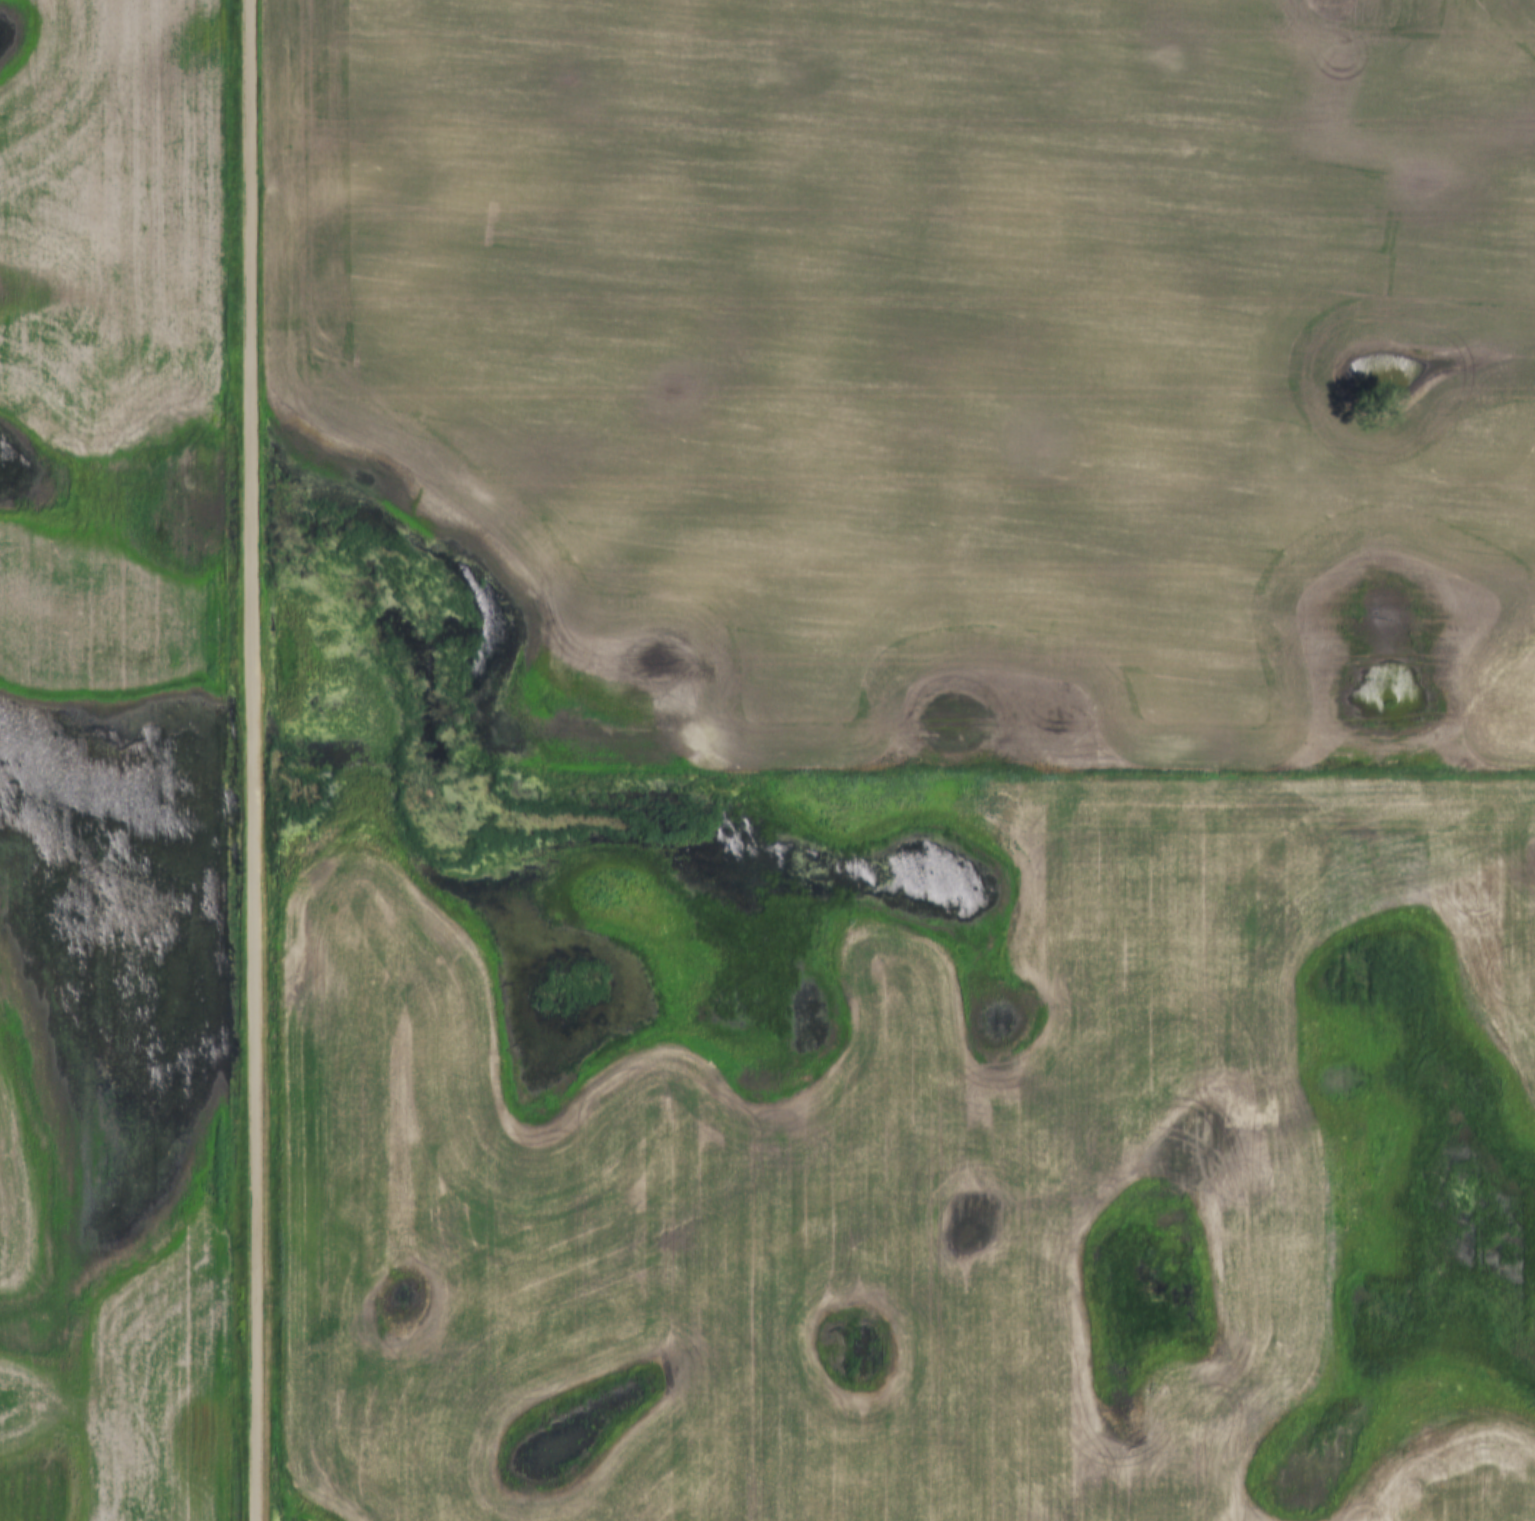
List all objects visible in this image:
road: (252, 760)

